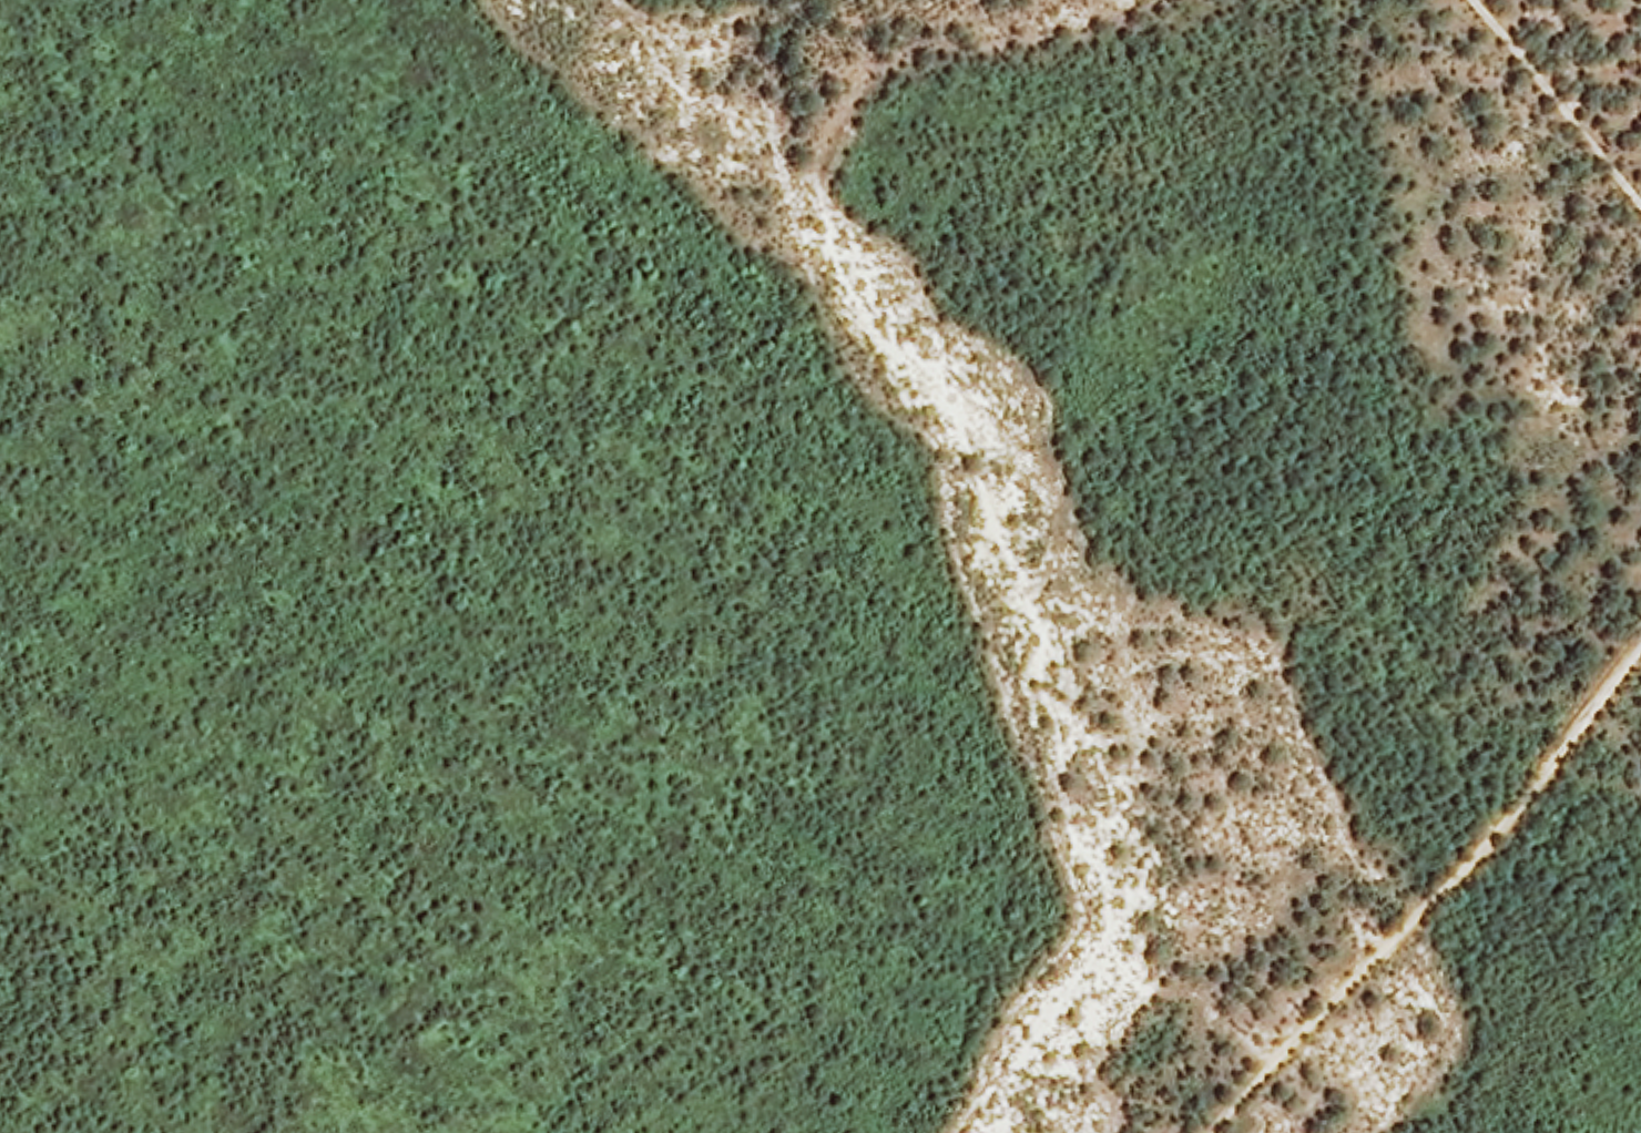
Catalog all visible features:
road: (1578, 76)

